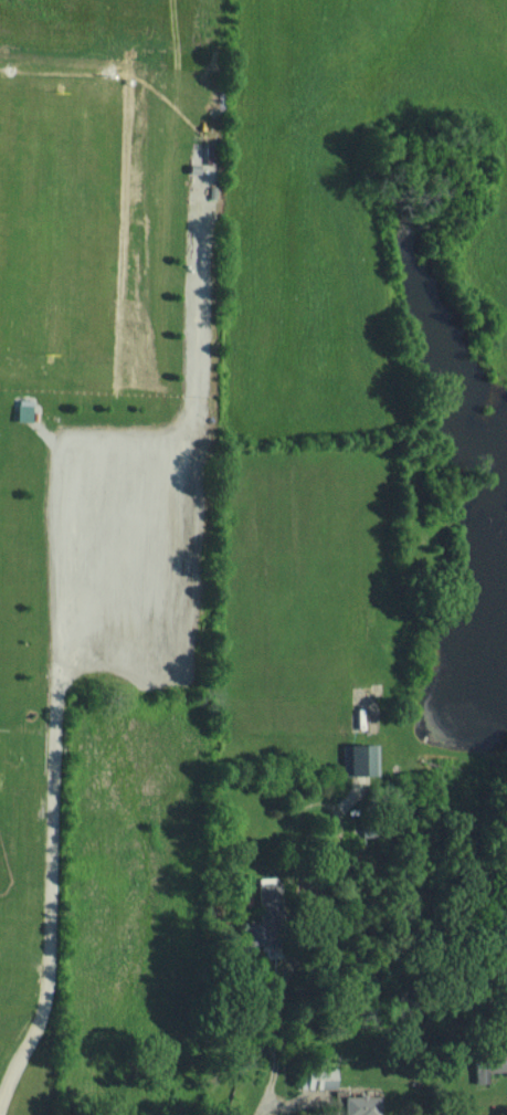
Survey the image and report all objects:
park: (104, 154)
park: (7, 158)
park: (140, 334)
park: (83, 335)
building: (22, 410)
park: (93, 422)
building: (361, 758)
park: (9, 816)
road: (49, 903)
building: (488, 1065)
building: (316, 1077)
road: (268, 1085)
building: (359, 1105)

